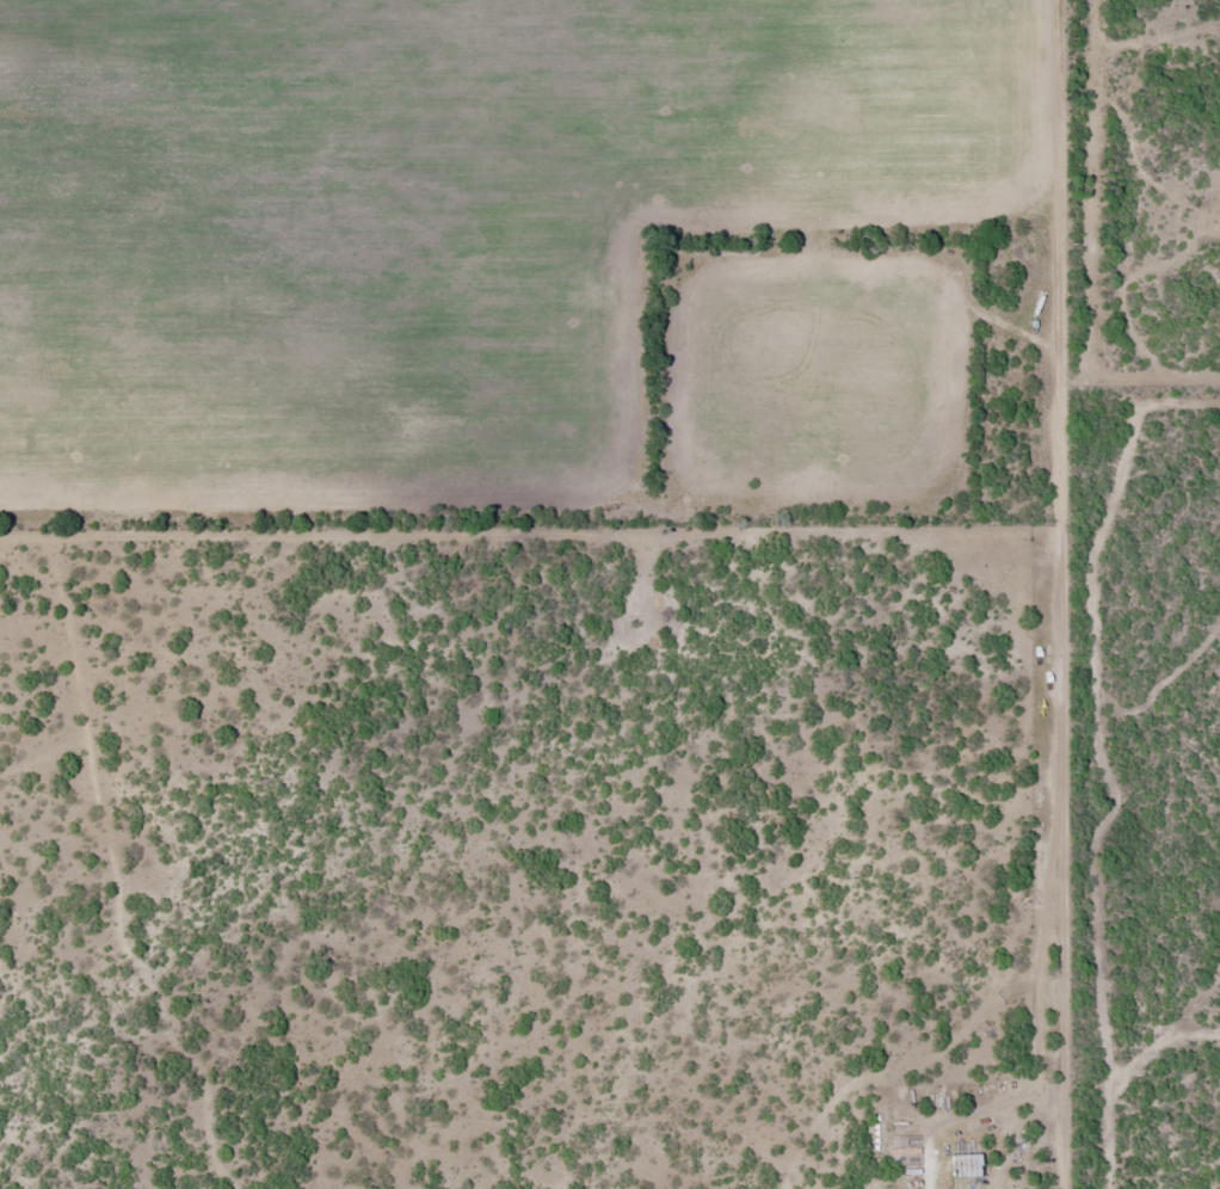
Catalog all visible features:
building: (962, 1164)

